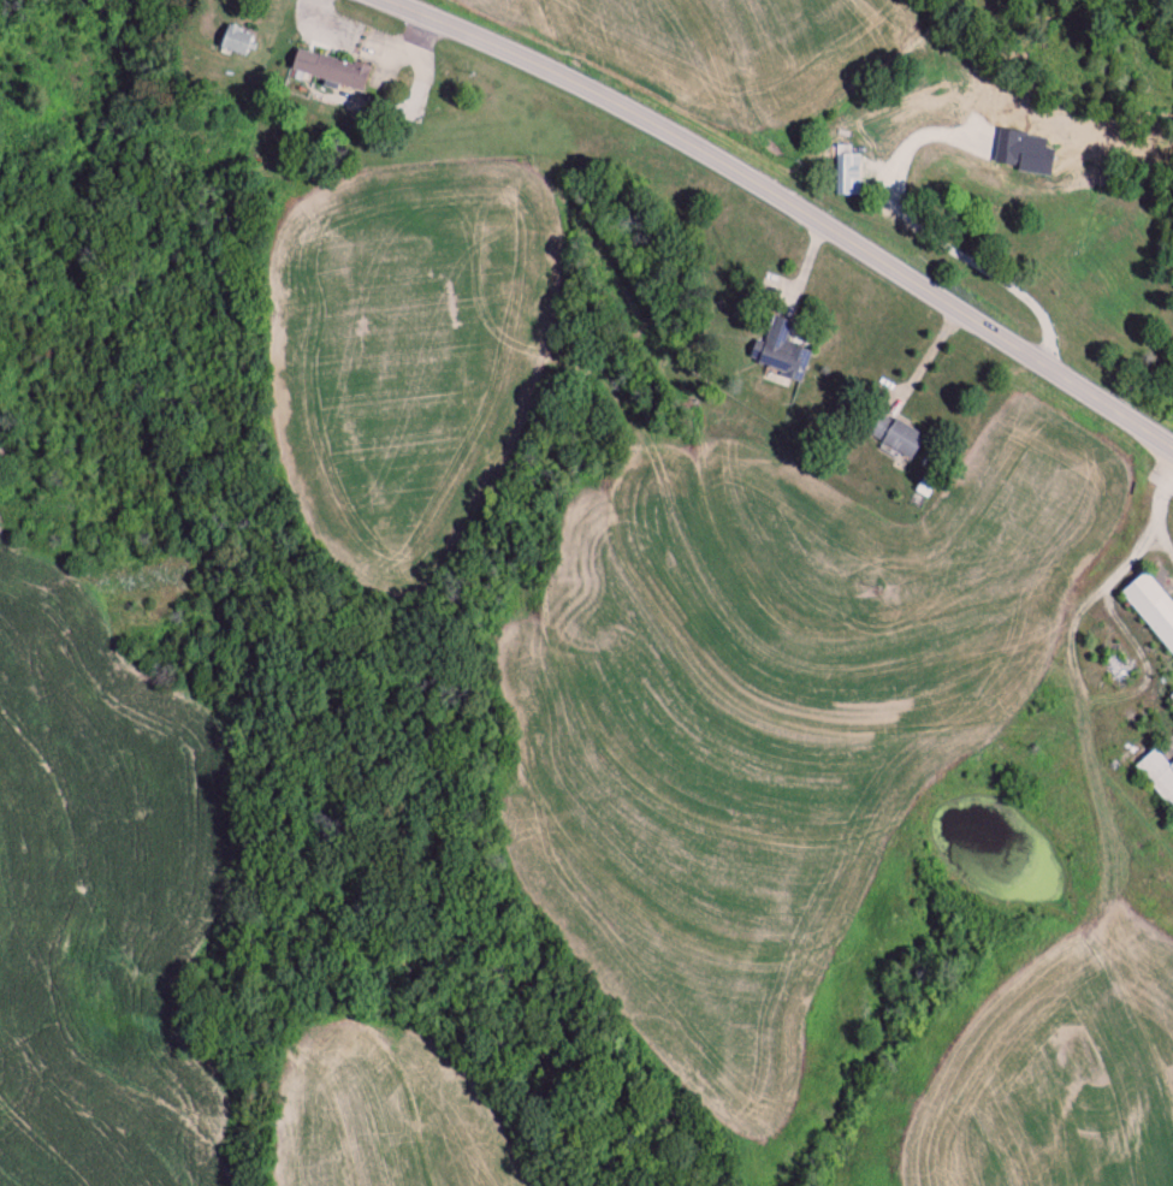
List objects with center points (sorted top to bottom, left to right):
building: (233, 42)
building: (337, 73)
building: (848, 172)
road: (746, 208)
building: (780, 352)
building: (895, 435)
road: (1160, 502)
building: (1150, 607)
building: (1171, 698)
building: (1157, 776)

